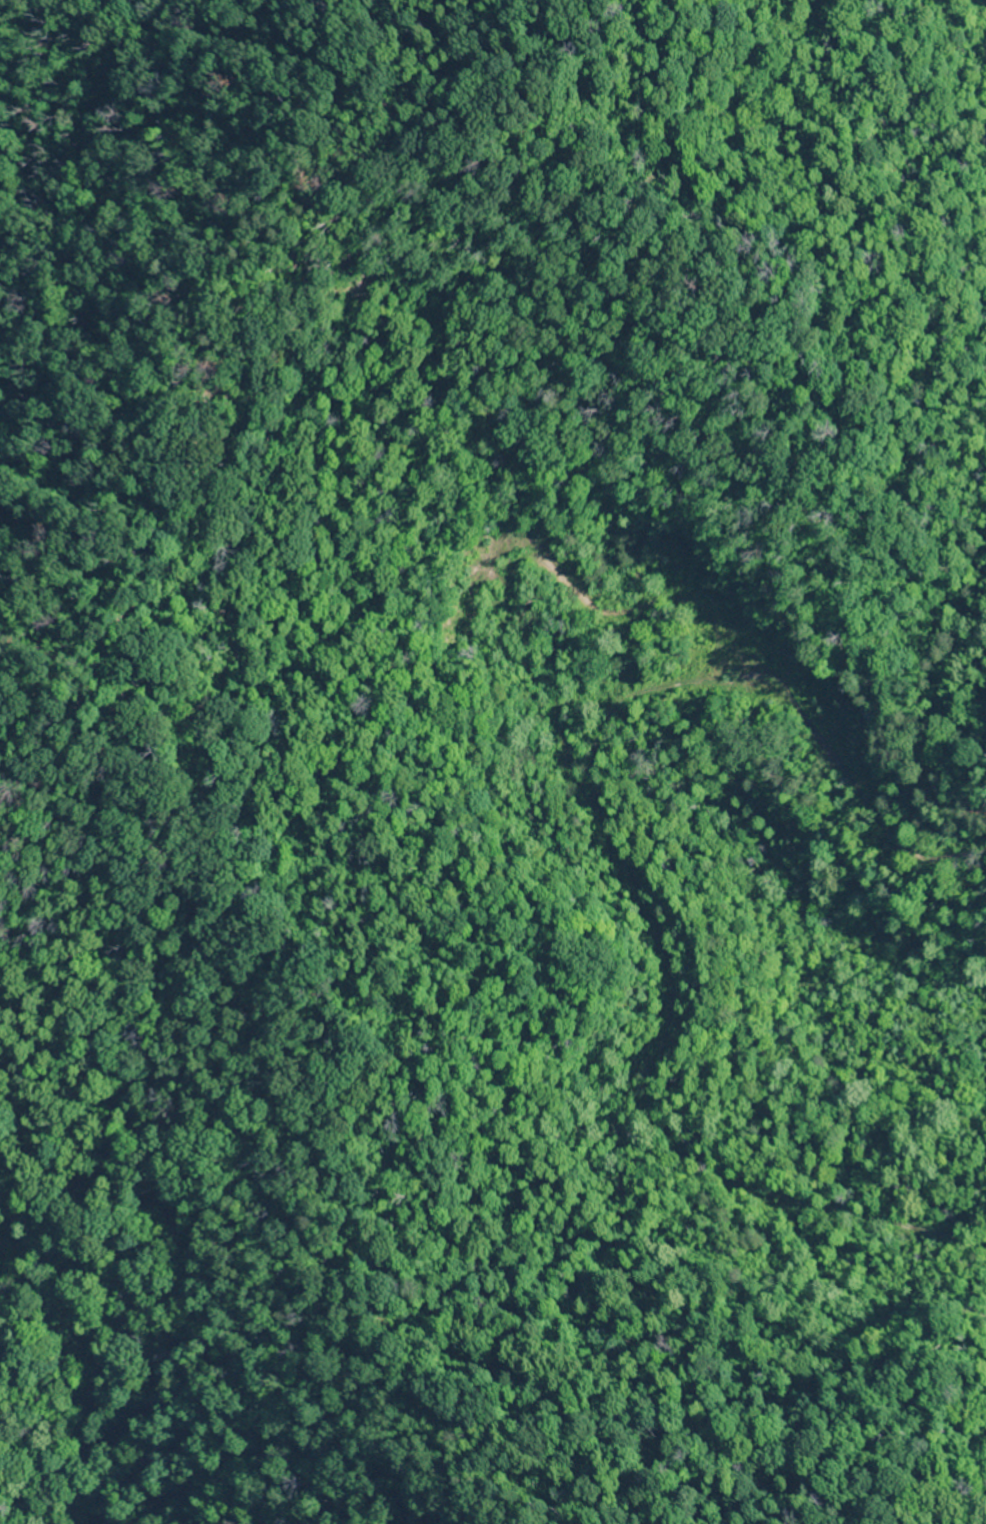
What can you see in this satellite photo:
road: (649, 826)

